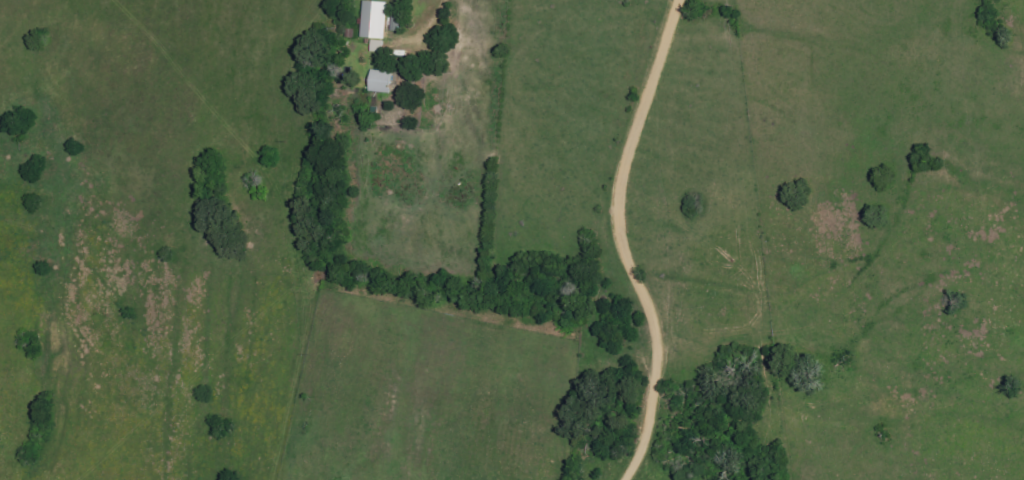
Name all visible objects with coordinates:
building: (377, 21)
building: (380, 82)
road: (622, 241)

